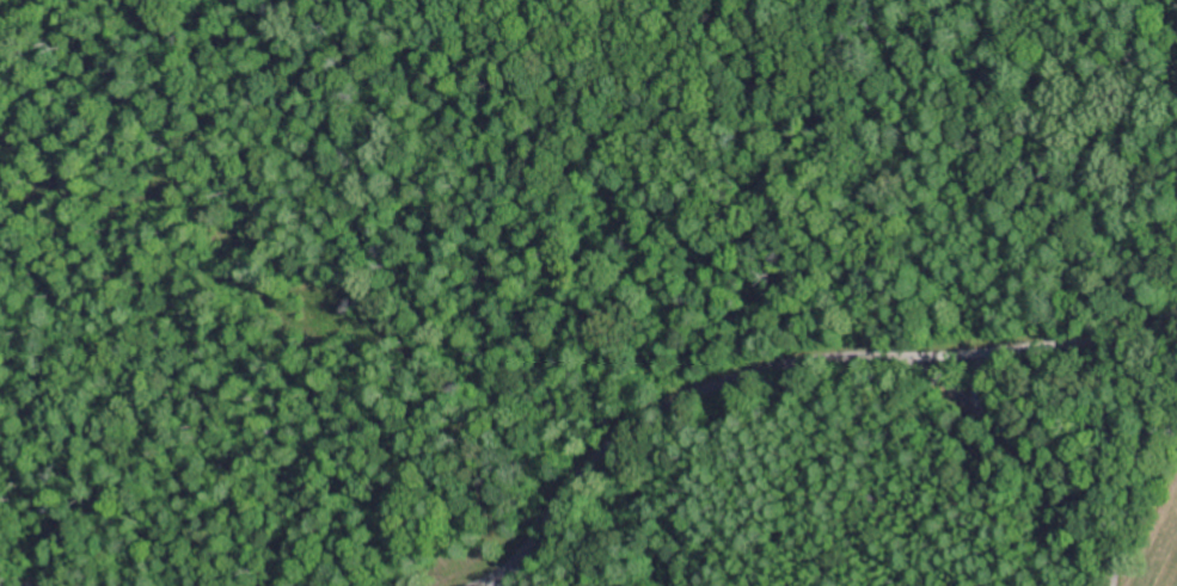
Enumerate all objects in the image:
road: (772, 360)
road: (1032, 457)
road: (73, 580)

